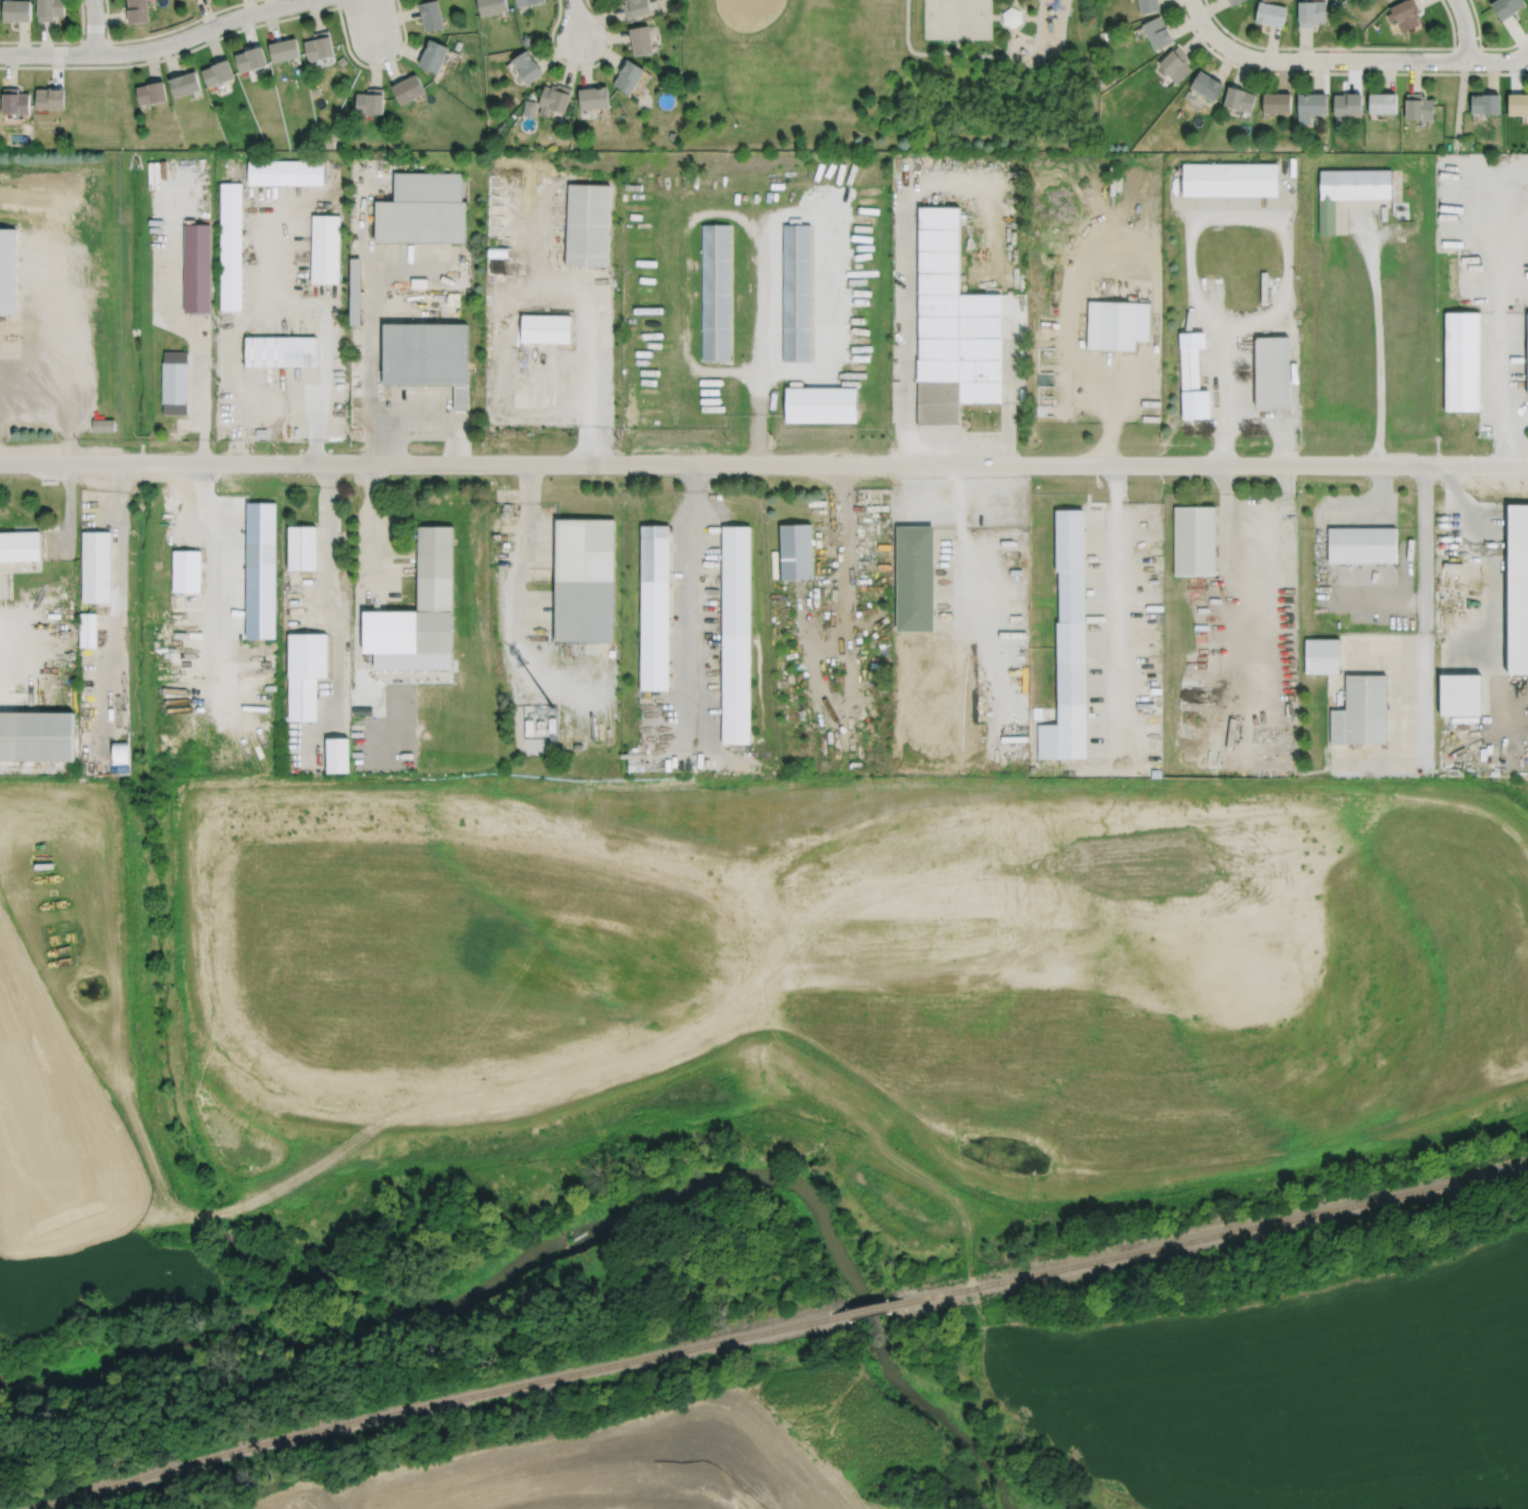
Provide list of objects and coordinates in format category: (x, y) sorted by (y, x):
building: (527, 2)
road: (1013, 2)
building: (1234, 2)
building: (1147, 5)
building: (491, 6)
building: (635, 7)
building: (1505, 7)
building: (48, 9)
building: (16, 10)
building: (137, 11)
building: (1310, 12)
building: (430, 14)
building: (1270, 14)
building: (1405, 14)
road: (995, 15)
building: (1011, 15)
road: (1039, 16)
park: (957, 18)
road: (369, 20)
road: (578, 20)
road: (1022, 21)
road: (94, 26)
road: (1464, 29)
building: (1156, 32)
building: (1107, 34)
building: (526, 39)
building: (641, 39)
road: (1218, 40)
road: (1008, 41)
building: (318, 45)
building: (456, 45)
park: (780, 45)
road: (956, 45)
road: (159, 46)
road: (908, 47)
building: (283, 49)
building: (432, 55)
building: (250, 58)
road: (1364, 59)
building: (341, 60)
road: (1497, 60)
building: (1175, 63)
road: (1035, 65)
building: (526, 66)
building: (217, 72)
park: (890, 74)
building: (627, 75)
building: (183, 83)
building: (1205, 84)
building: (407, 88)
building: (151, 92)
building: (49, 97)
building: (592, 97)
building: (554, 98)
building: (1238, 98)
building: (14, 100)
building: (369, 101)
building: (1276, 102)
building: (1382, 102)
building: (1311, 103)
building: (1347, 103)
building: (1518, 103)
building: (1485, 104)
building: (1418, 106)
building: (529, 107)
building: (159, 155)
building: (284, 172)
building: (1229, 178)
building: (1348, 190)
road: (173, 209)
building: (422, 209)
road: (1260, 214)
road: (907, 219)
road: (1051, 219)
building: (587, 224)
building: (230, 246)
road: (277, 247)
building: (324, 248)
road: (406, 262)
building: (196, 267)
building: (7, 271)
road: (25, 286)
road: (70, 287)
road: (579, 289)
building: (355, 291)
building: (796, 292)
building: (715, 293)
road: (302, 307)
road: (1496, 312)
road: (371, 317)
road: (822, 320)
road: (283, 322)
building: (1116, 324)
road: (195, 327)
building: (948, 328)
road: (1378, 338)
building: (539, 343)
building: (280, 351)
building: (1527, 354)
building: (427, 356)
building: (1461, 362)
building: (1272, 371)
road: (507, 373)
building: (1191, 377)
building: (174, 383)
road: (34, 389)
road: (1152, 392)
road: (1223, 393)
building: (820, 405)
road: (275, 407)
road: (1008, 408)
road: (406, 412)
road: (1277, 420)
building: (102, 424)
road: (1108, 428)
building: (279, 431)
building: (260, 433)
road: (1498, 441)
road: (764, 463)
road: (69, 511)
road: (1243, 520)
building: (1194, 541)
building: (1362, 545)
building: (20, 546)
building: (301, 548)
building: (796, 552)
road: (1322, 553)
road: (206, 557)
building: (96, 566)
building: (186, 572)
building: (914, 577)
building: (583, 579)
building: (1517, 588)
road: (118, 590)
road: (693, 606)
building: (654, 608)
building: (418, 612)
road: (1425, 613)
road: (1116, 616)
road: (337, 625)
building: (87, 630)
road: (992, 634)
building: (735, 635)
building: (1068, 643)
road: (528, 645)
road: (27, 646)
road: (846, 648)
building: (1321, 656)
road: (356, 663)
building: (305, 673)
building: (1459, 693)
road: (356, 695)
building: (1361, 711)
building: (1036, 712)
building: (37, 736)
road: (1256, 741)
building: (577, 746)
building: (120, 753)
building: (336, 755)
road: (1419, 761)
road: (1095, 768)
railway: (1217, 1233)
railway: (866, 1310)
crop: (1298, 1391)
railway: (430, 1404)

